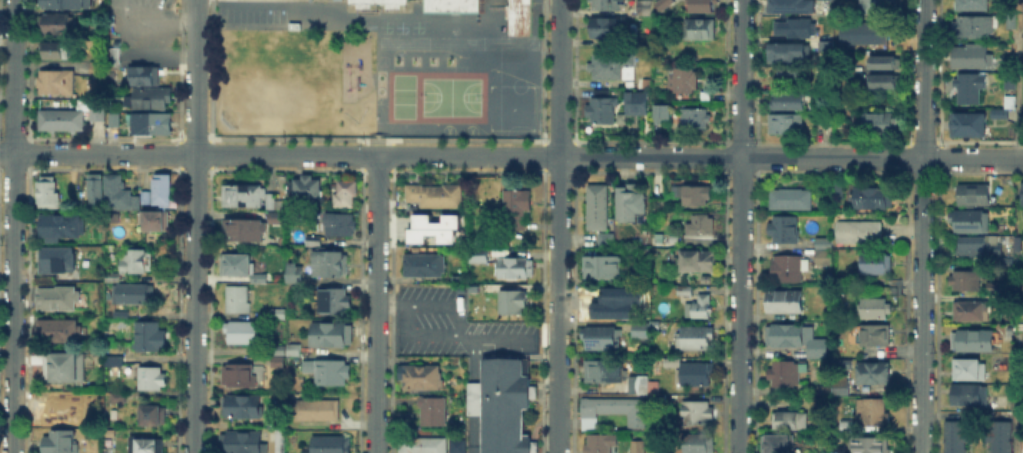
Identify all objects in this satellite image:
building: (67, 3)
building: (361, 3)
building: (665, 4)
building: (453, 5)
building: (609, 5)
road: (246, 6)
building: (703, 6)
building: (790, 6)
building: (974, 6)
building: (877, 7)
building: (645, 8)
building: (517, 16)
road: (166, 19)
building: (58, 26)
building: (975, 27)
building: (608, 29)
building: (698, 29)
building: (795, 29)
building: (864, 35)
building: (645, 44)
building: (57, 52)
road: (140, 52)
building: (788, 53)
building: (971, 55)
building: (117, 59)
building: (884, 62)
building: (613, 66)
building: (792, 71)
building: (144, 77)
park: (271, 79)
building: (53, 80)
building: (643, 81)
building: (684, 82)
building: (883, 83)
building: (1010, 83)
building: (971, 90)
park: (402, 95)
park: (450, 95)
building: (703, 97)
building: (153, 99)
building: (1007, 100)
building: (790, 101)
building: (633, 102)
building: (600, 110)
building: (95, 112)
building: (997, 112)
building: (659, 113)
road: (1017, 115)
building: (618, 117)
building: (58, 118)
building: (696, 120)
building: (116, 121)
building: (965, 123)
building: (153, 125)
building: (786, 125)
building: (825, 125)
building: (881, 125)
road: (511, 156)
building: (308, 189)
building: (163, 190)
building: (348, 190)
building: (96, 191)
building: (49, 192)
building: (116, 193)
building: (974, 194)
building: (1022, 194)
building: (245, 195)
building: (694, 195)
building: (146, 197)
building: (436, 197)
building: (869, 198)
building: (272, 200)
building: (791, 200)
building: (137, 202)
building: (631, 204)
building: (595, 206)
building: (517, 210)
building: (276, 219)
building: (434, 220)
building: (156, 221)
building: (972, 221)
building: (340, 225)
building: (699, 225)
road: (13, 226)
building: (60, 226)
road: (194, 226)
road: (558, 226)
road: (740, 226)
road: (922, 226)
building: (246, 231)
building: (784, 231)
building: (859, 233)
building: (429, 234)
building: (602, 238)
building: (313, 241)
building: (823, 242)
building: (979, 248)
building: (477, 255)
building: (824, 256)
building: (58, 259)
building: (136, 262)
building: (699, 262)
building: (1007, 262)
building: (239, 263)
building: (330, 263)
building: (877, 265)
building: (423, 266)
building: (602, 266)
building: (789, 268)
building: (518, 269)
building: (295, 275)
building: (967, 281)
building: (996, 288)
building: (686, 291)
building: (135, 294)
building: (57, 298)
building: (238, 300)
building: (785, 302)
building: (335, 303)
building: (513, 303)
road: (376, 304)
building: (604, 307)
building: (700, 308)
building: (874, 309)
building: (973, 312)
building: (277, 314)
building: (121, 317)
building: (61, 331)
building: (642, 331)
building: (1010, 333)
building: (244, 334)
building: (333, 336)
building: (876, 337)
building: (150, 338)
building: (602, 339)
building: (695, 339)
building: (797, 339)
building: (974, 342)
building: (278, 351)
building: (294, 351)
building: (113, 360)
building: (672, 363)
building: (65, 367)
building: (970, 371)
building: (329, 373)
building: (606, 373)
building: (696, 374)
building: (787, 374)
building: (875, 374)
building: (239, 377)
building: (422, 378)
building: (153, 380)
building: (641, 385)
building: (655, 387)
building: (842, 388)
building: (823, 391)
road: (1017, 393)
building: (971, 397)
building: (119, 401)
building: (661, 403)
building: (501, 404)
building: (242, 407)
building: (61, 408)
building: (614, 410)
building: (315, 411)
building: (434, 413)
building: (698, 413)
building: (873, 413)
building: (155, 417)
building: (792, 422)
building: (999, 436)
building: (957, 437)
building: (61, 442)
building: (242, 443)
building: (867, 443)
building: (332, 444)
building: (420, 444)
building: (604, 444)
building: (700, 444)
building: (148, 445)
building: (454, 445)
building: (779, 445)
building: (638, 447)

